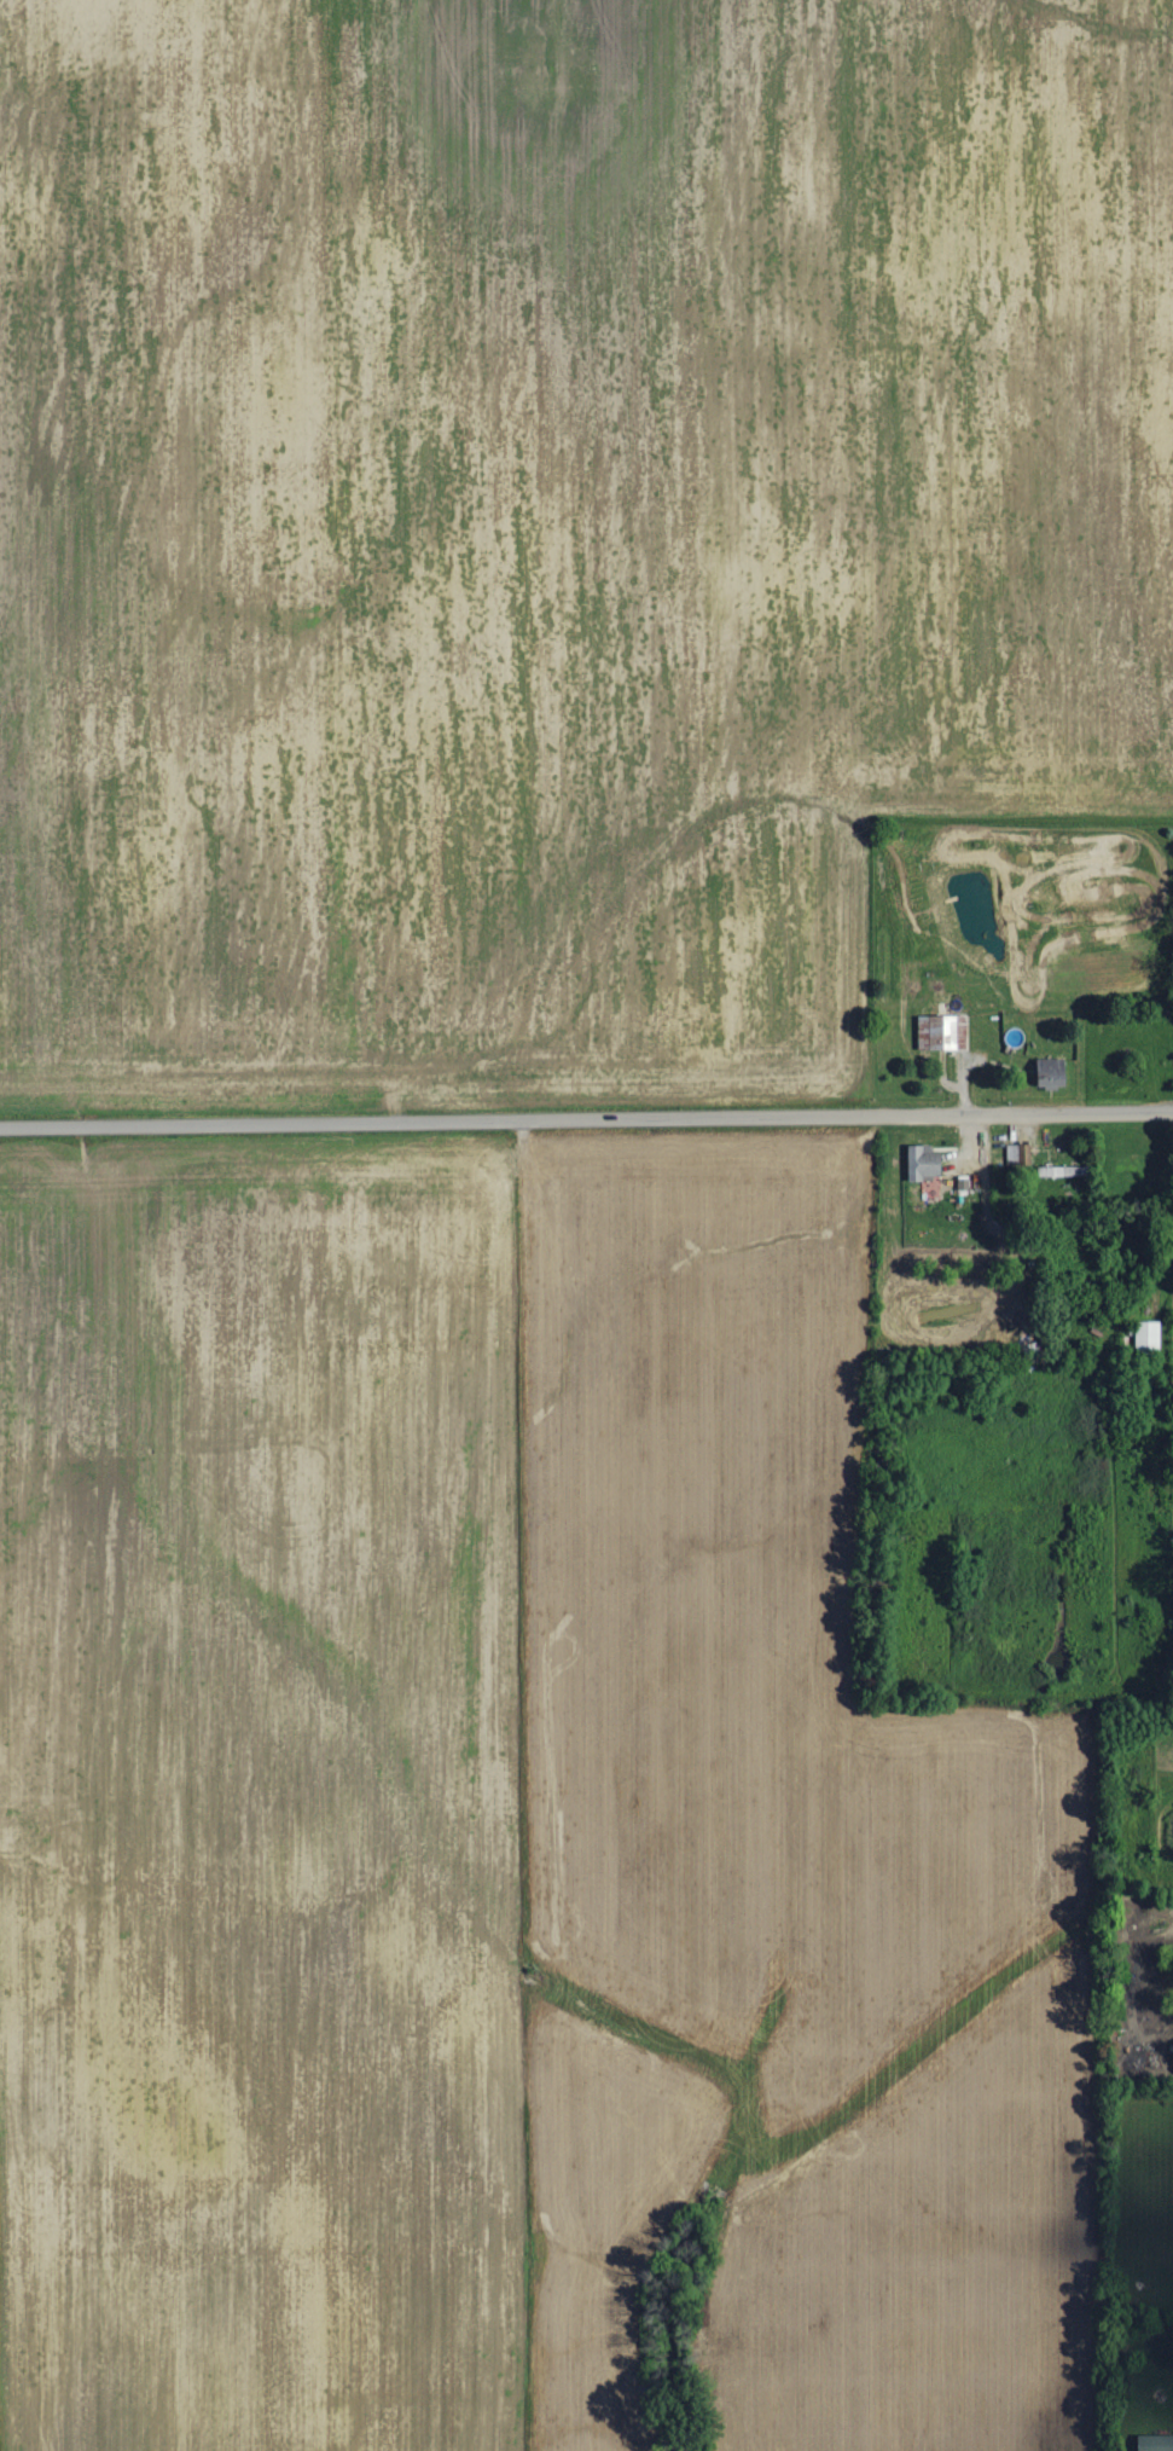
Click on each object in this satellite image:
building: (943, 1032)
building: (1052, 1073)
road: (586, 1116)
building: (925, 1163)
building: (1056, 1171)
building: (1150, 1337)
building: (1156, 2443)

